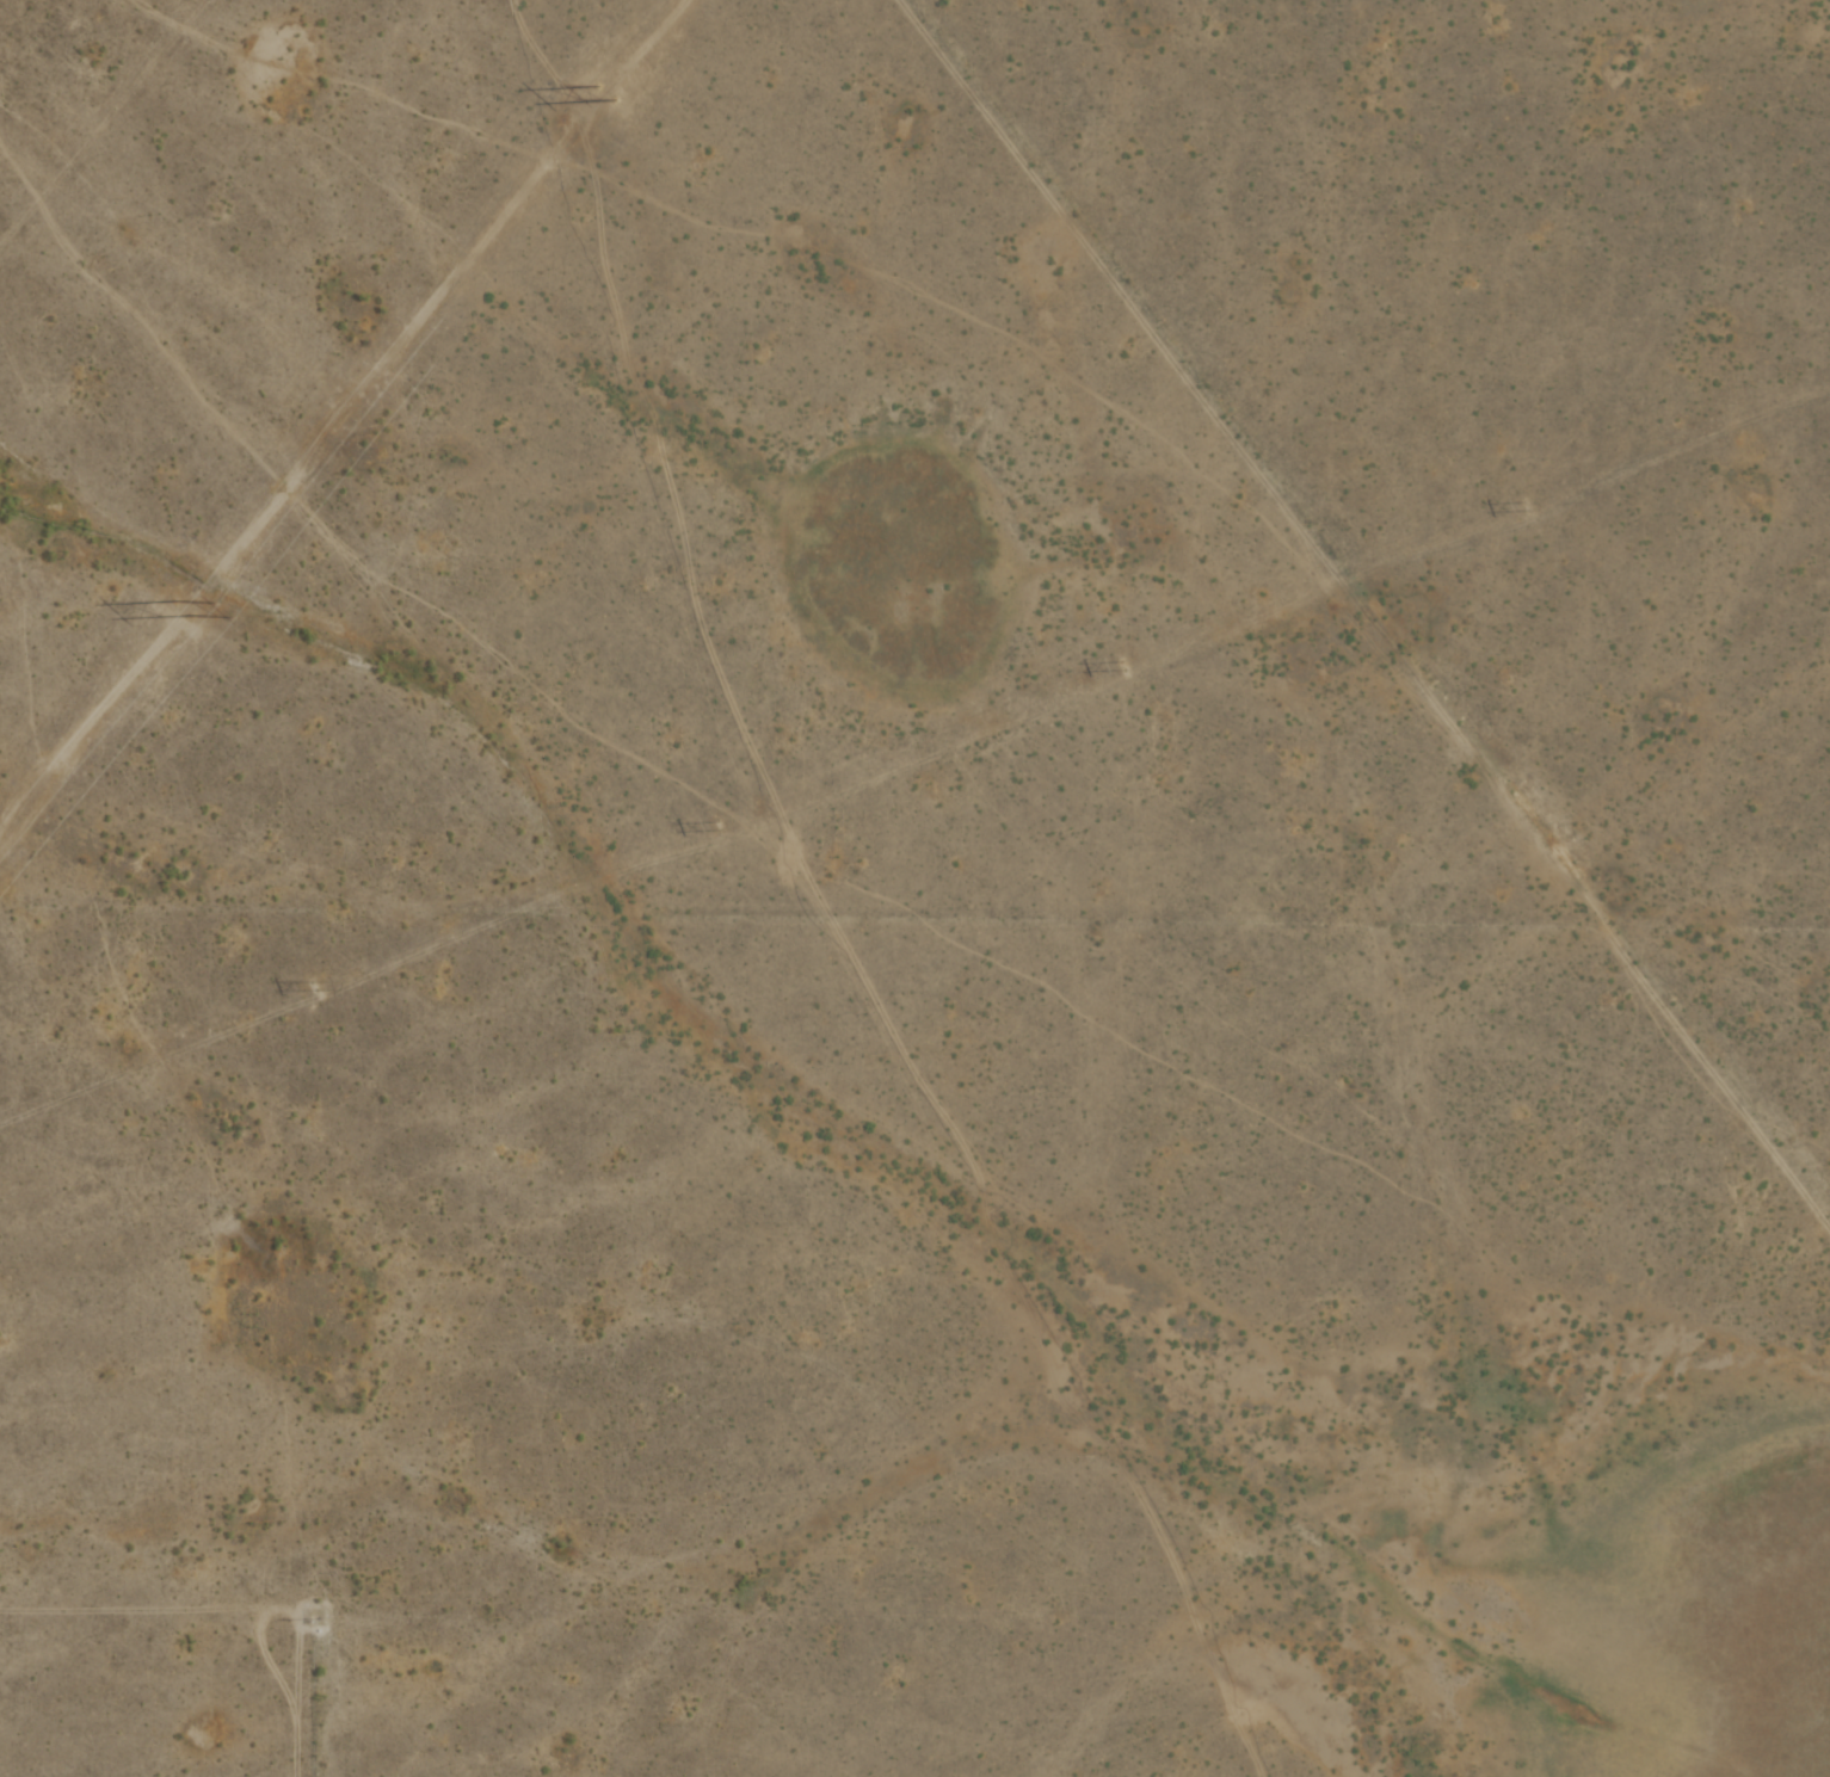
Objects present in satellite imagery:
power tower: (597, 91)
power tower: (1522, 508)
power tower: (178, 611)
power tower: (1117, 667)
power tower: (714, 826)
power tower: (309, 986)
road: (928, 1608)

